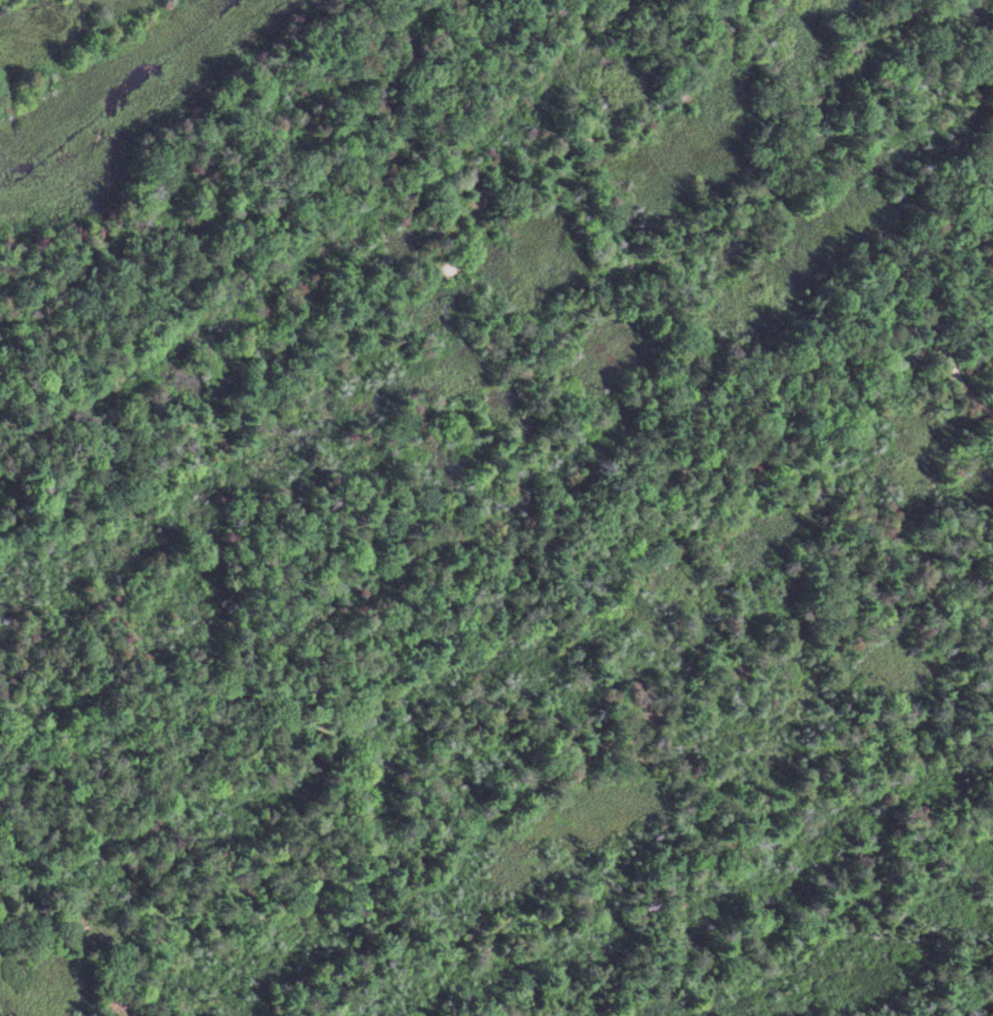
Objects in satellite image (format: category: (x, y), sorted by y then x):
road: (949, 291)

